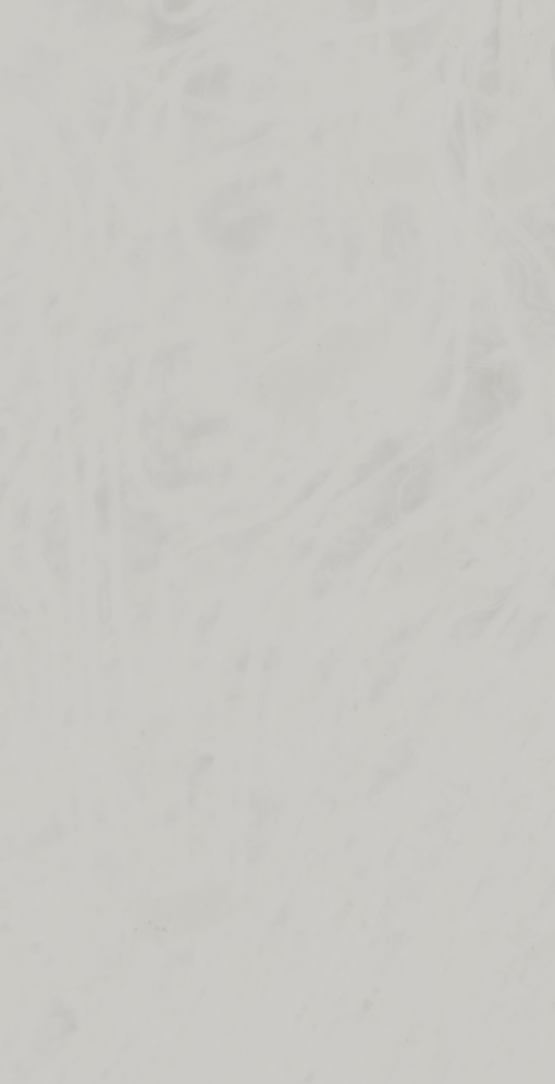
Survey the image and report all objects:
building: (554, 11)
building: (554, 222)
building: (521, 997)
building: (554, 1069)

